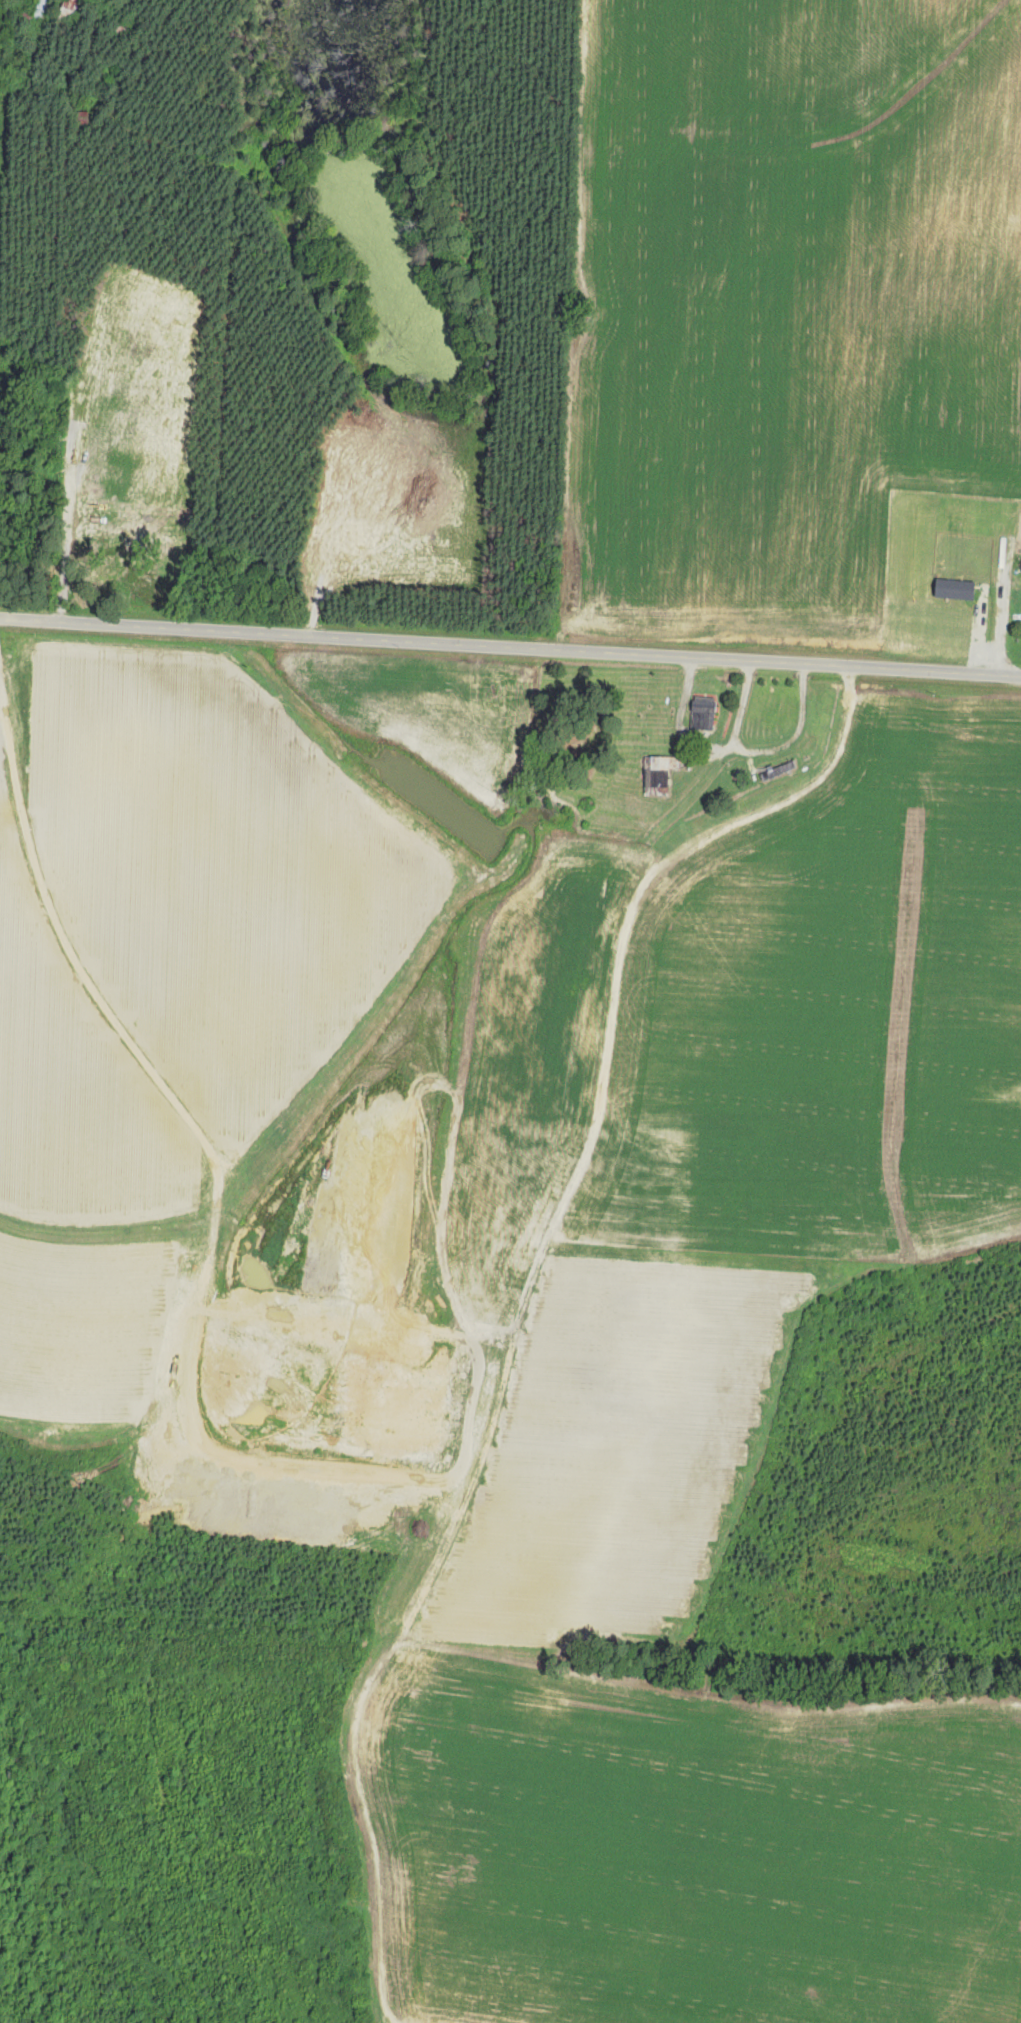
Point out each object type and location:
building: (70, 8)
road: (95, 336)
road: (510, 650)
road: (741, 707)
building: (703, 713)
road: (731, 748)

